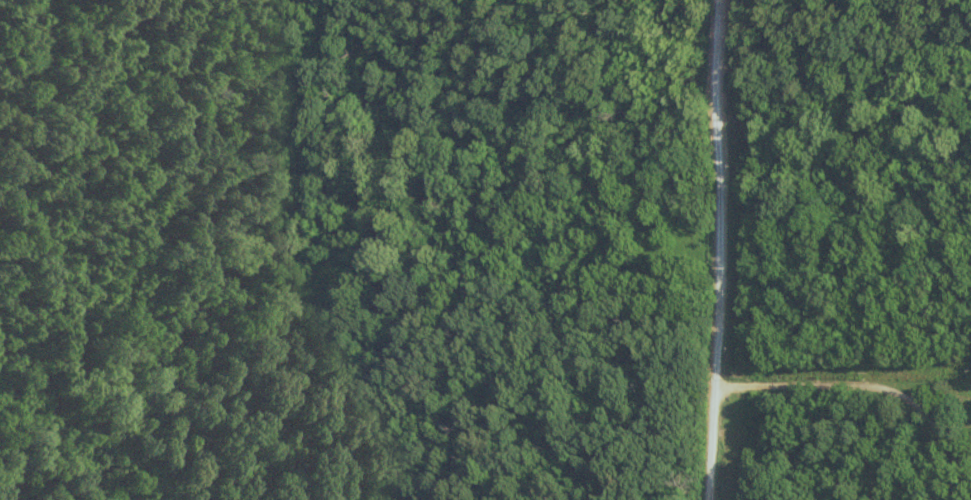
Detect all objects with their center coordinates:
road: (721, 249)
road: (853, 396)

